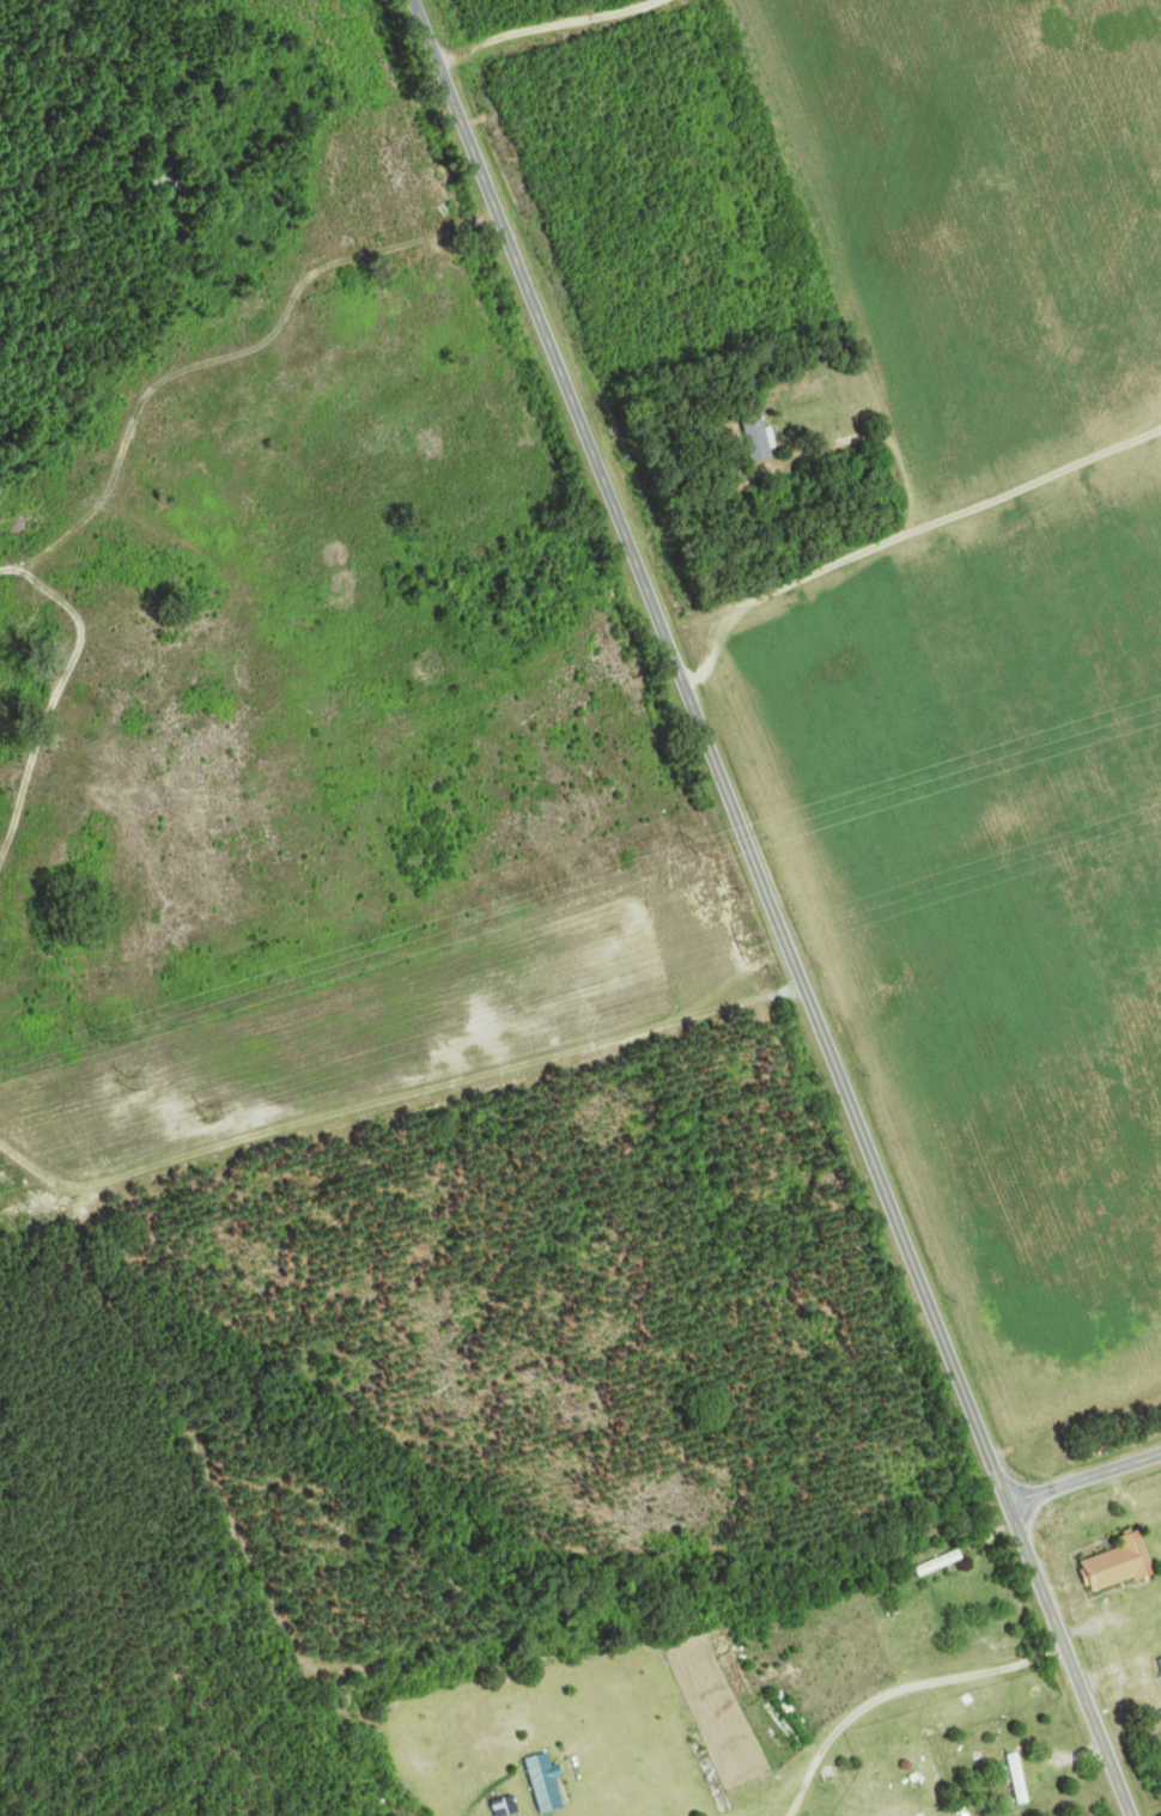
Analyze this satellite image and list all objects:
road: (543, 25)
road: (823, 265)
building: (760, 441)
road: (901, 536)
power tower: (700, 848)
power tower: (729, 894)
road: (773, 907)
power tower: (748, 942)
power tower: (99, 1034)
power tower: (132, 1082)
power tower: (207, 1109)
building: (12, 1164)
road: (1083, 1478)
building: (1120, 1565)
road: (896, 1690)
building: (1020, 1779)
building: (549, 1784)

